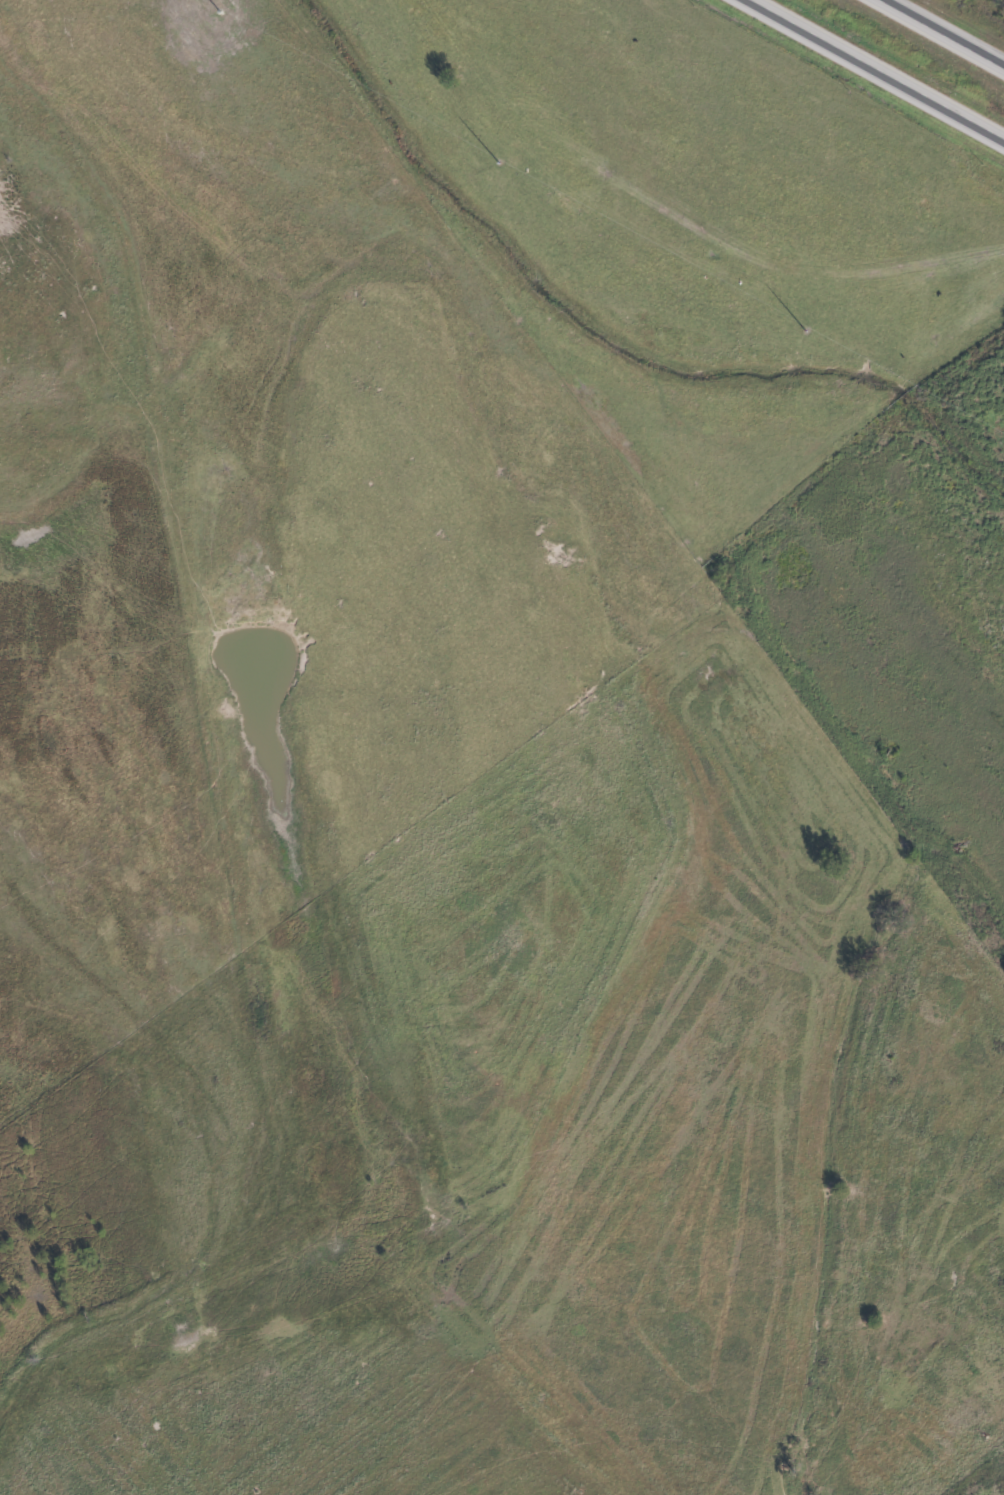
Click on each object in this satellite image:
road: (942, 33)
road: (874, 71)

